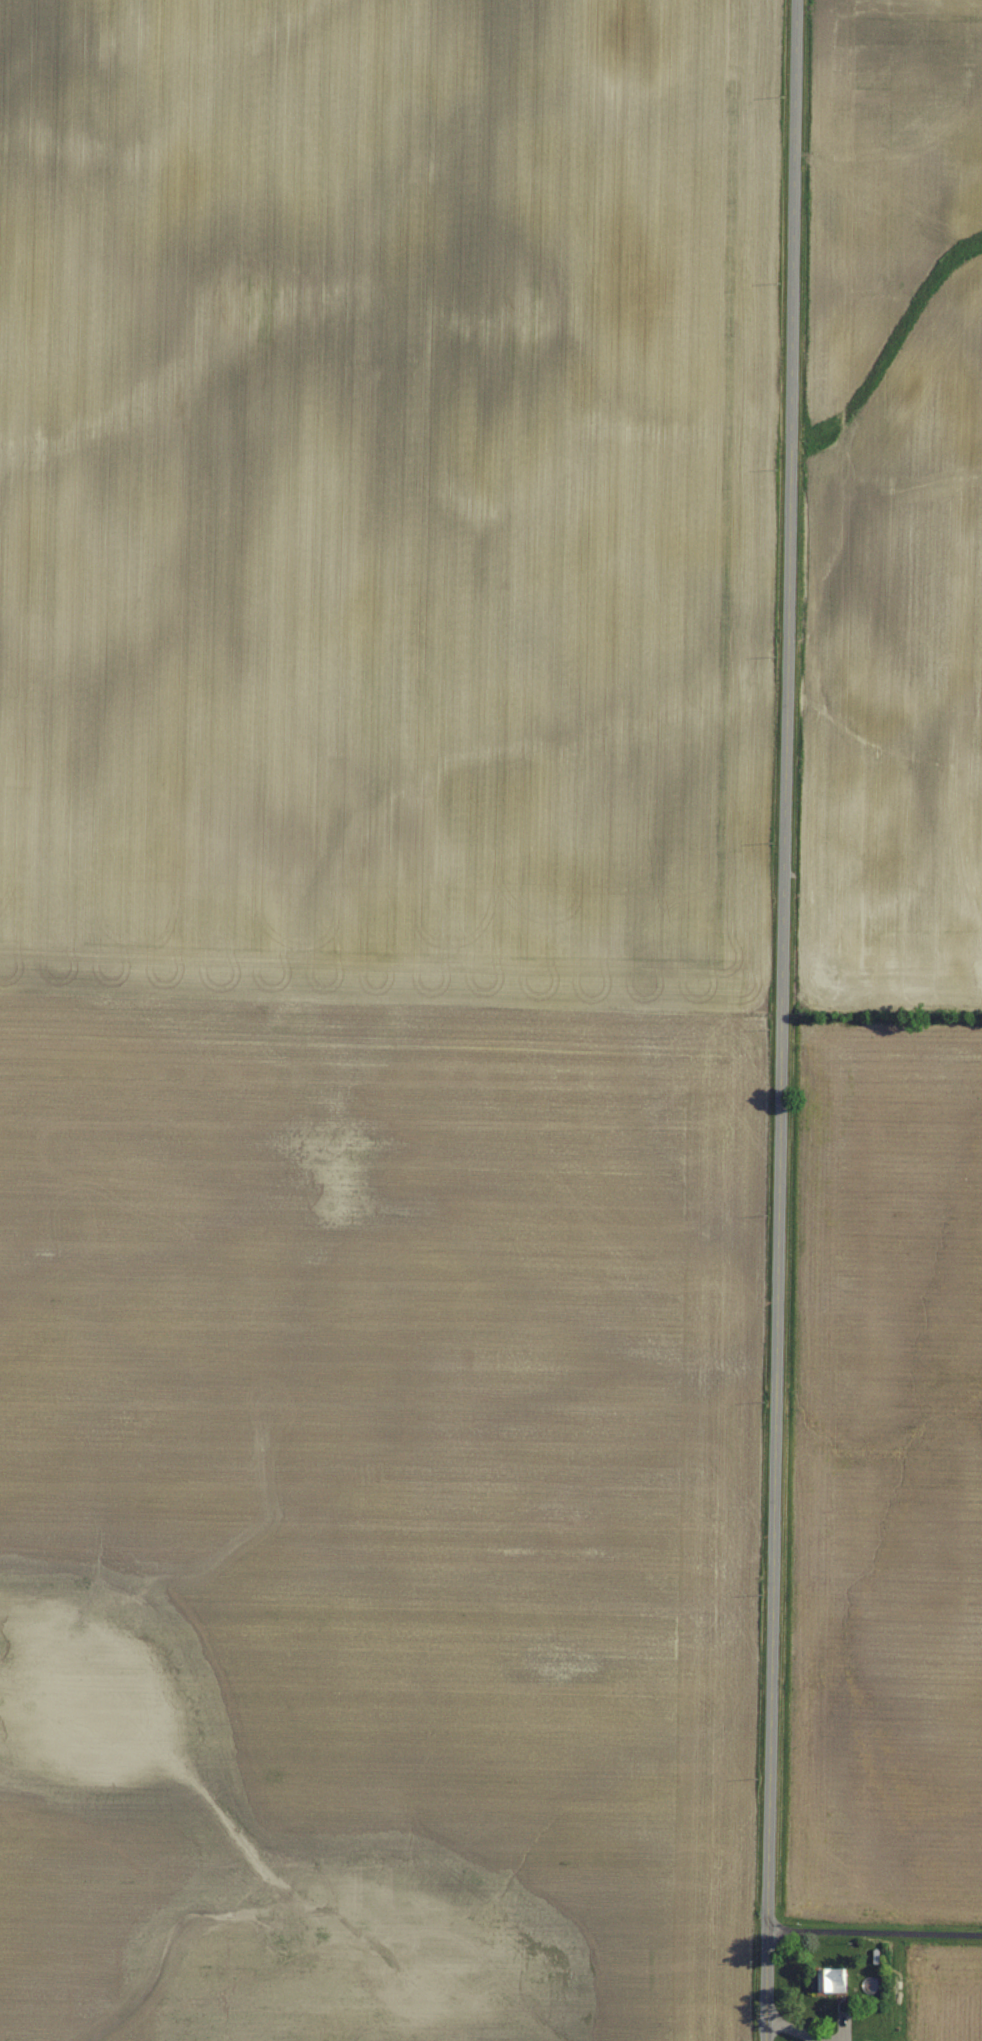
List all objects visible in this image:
road: (778, 1020)
road: (873, 1929)
road: (794, 2027)

